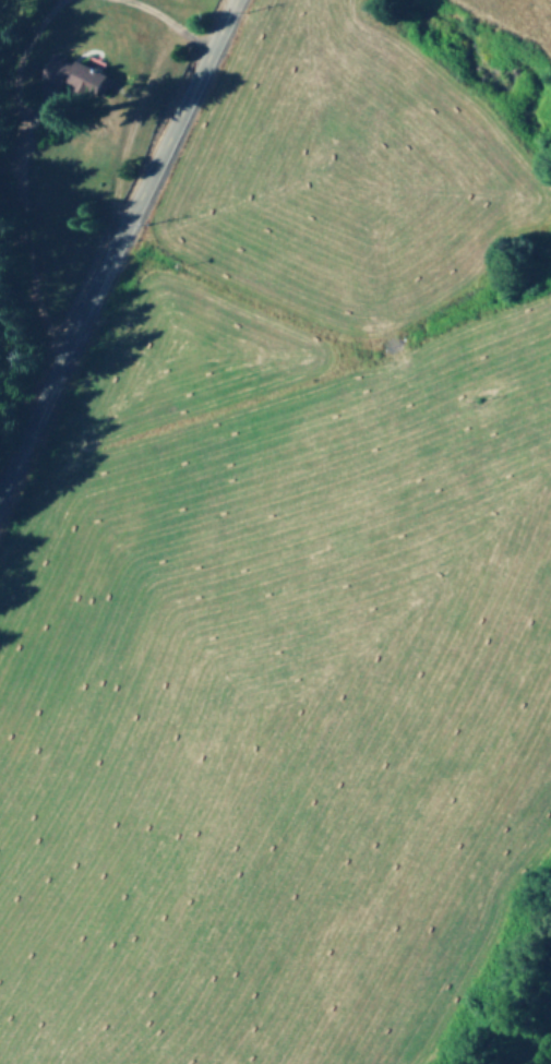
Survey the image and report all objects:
building: (56, 74)
road: (113, 241)

